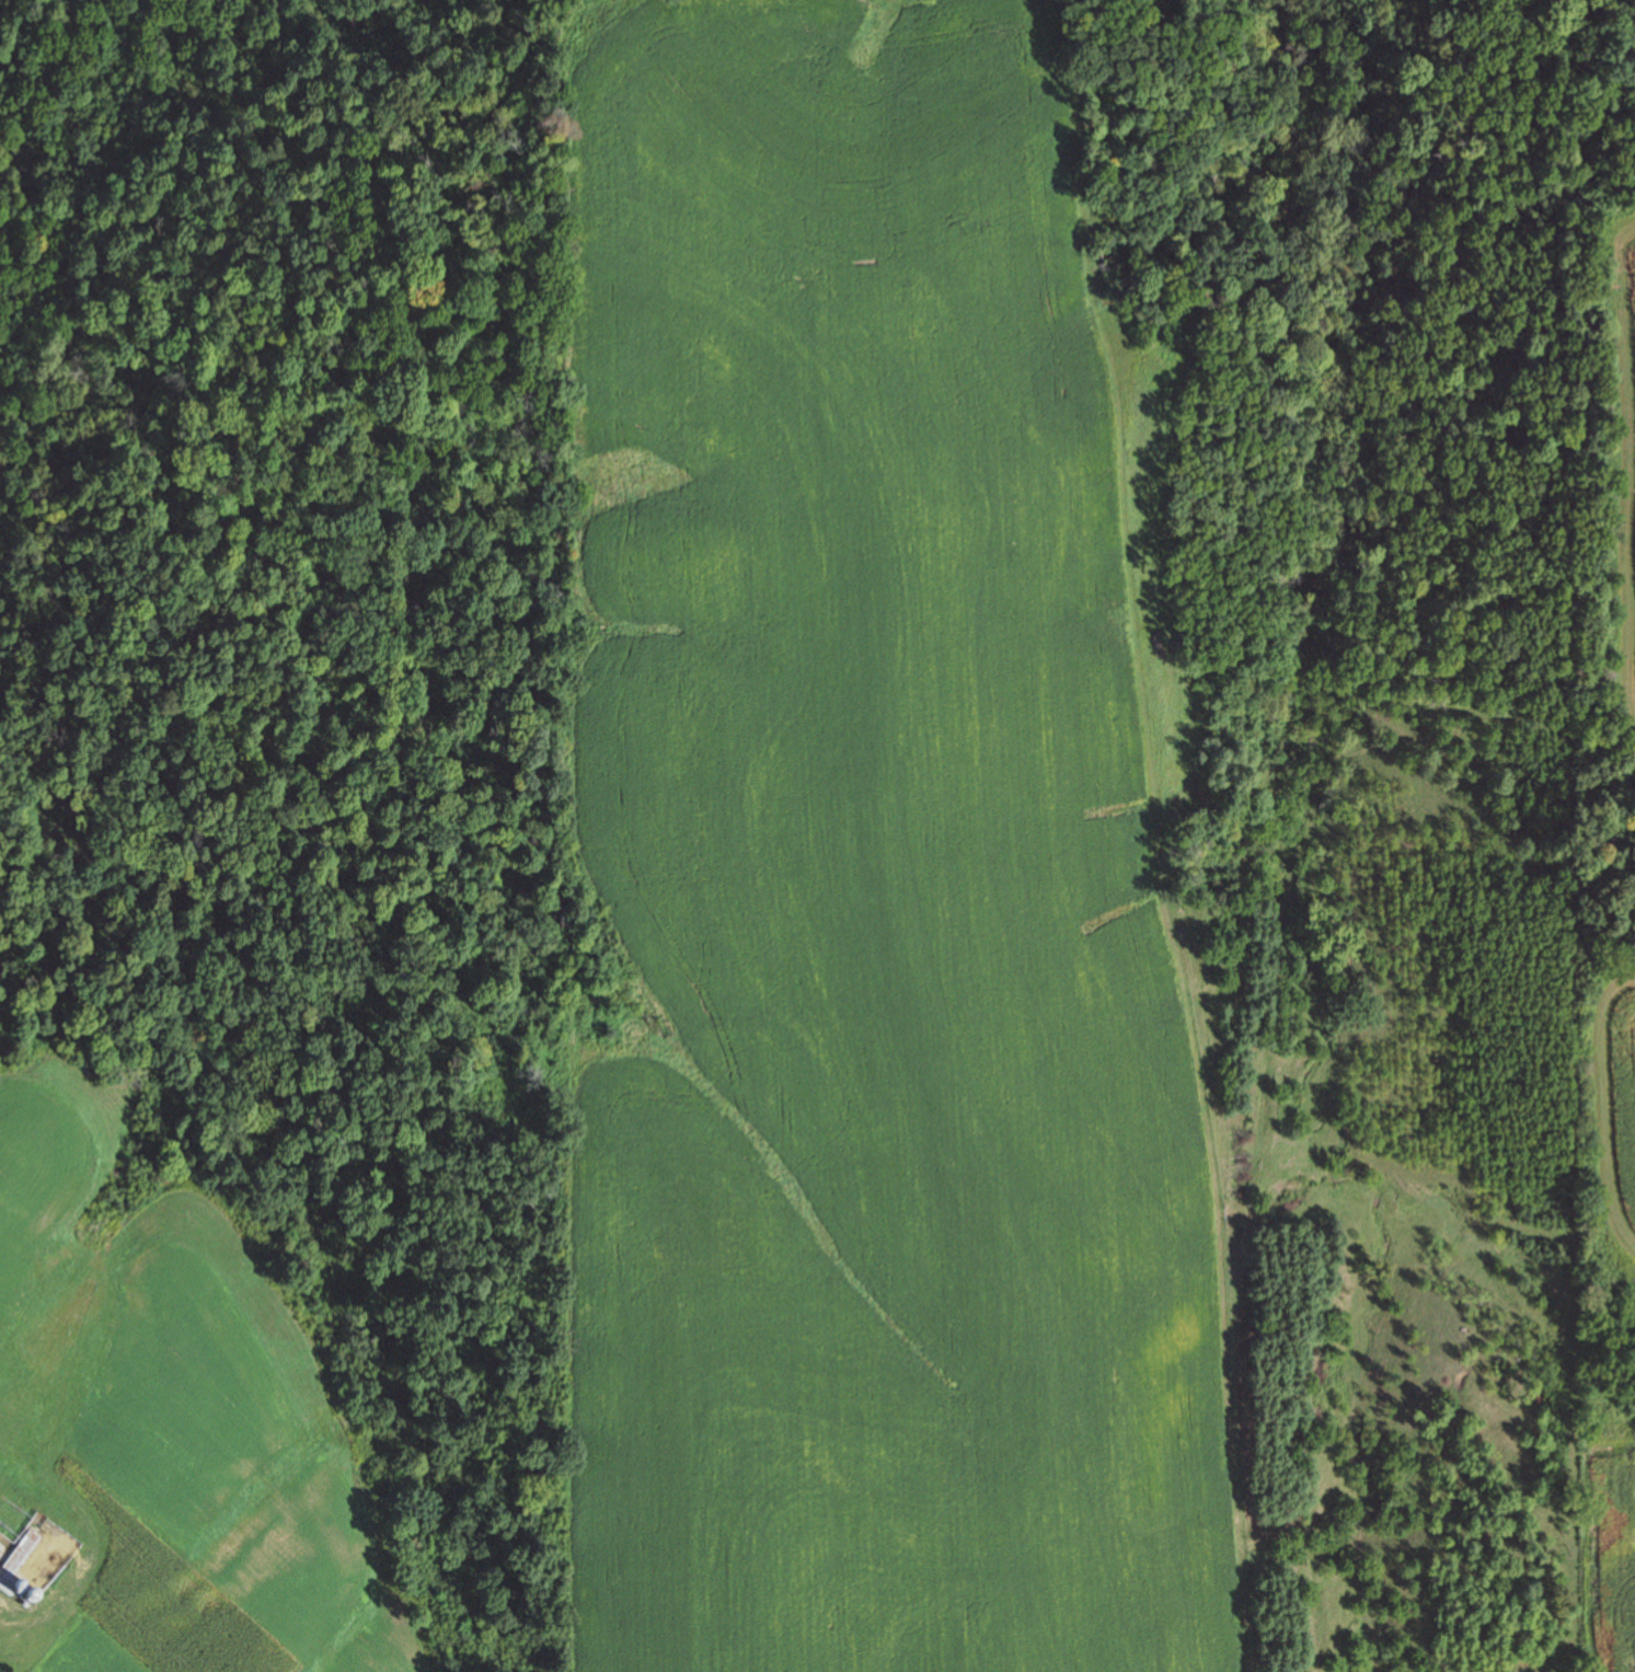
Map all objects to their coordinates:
building: (16, 1566)

